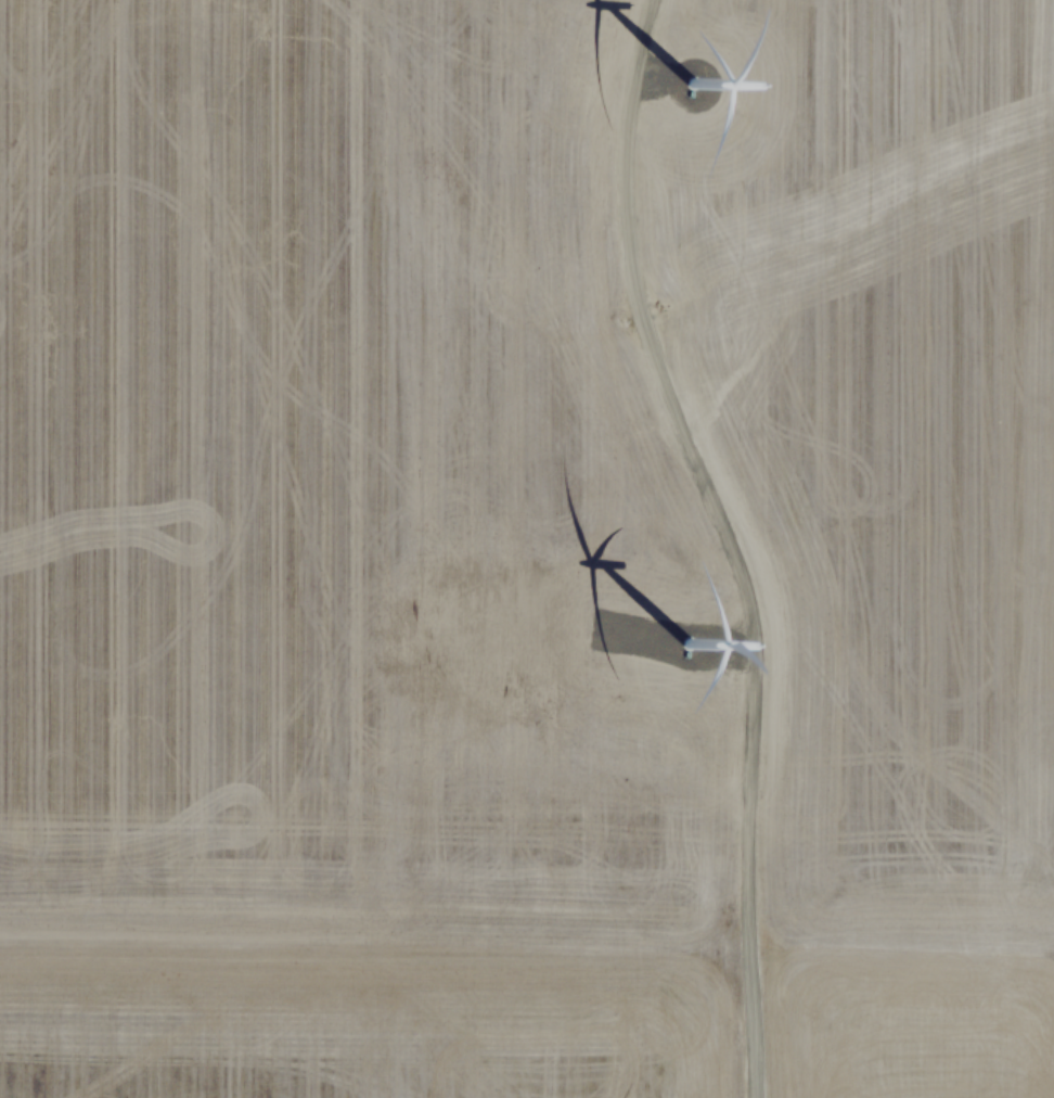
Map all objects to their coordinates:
wind turbine: (721, 84)
wind turbine: (716, 641)

